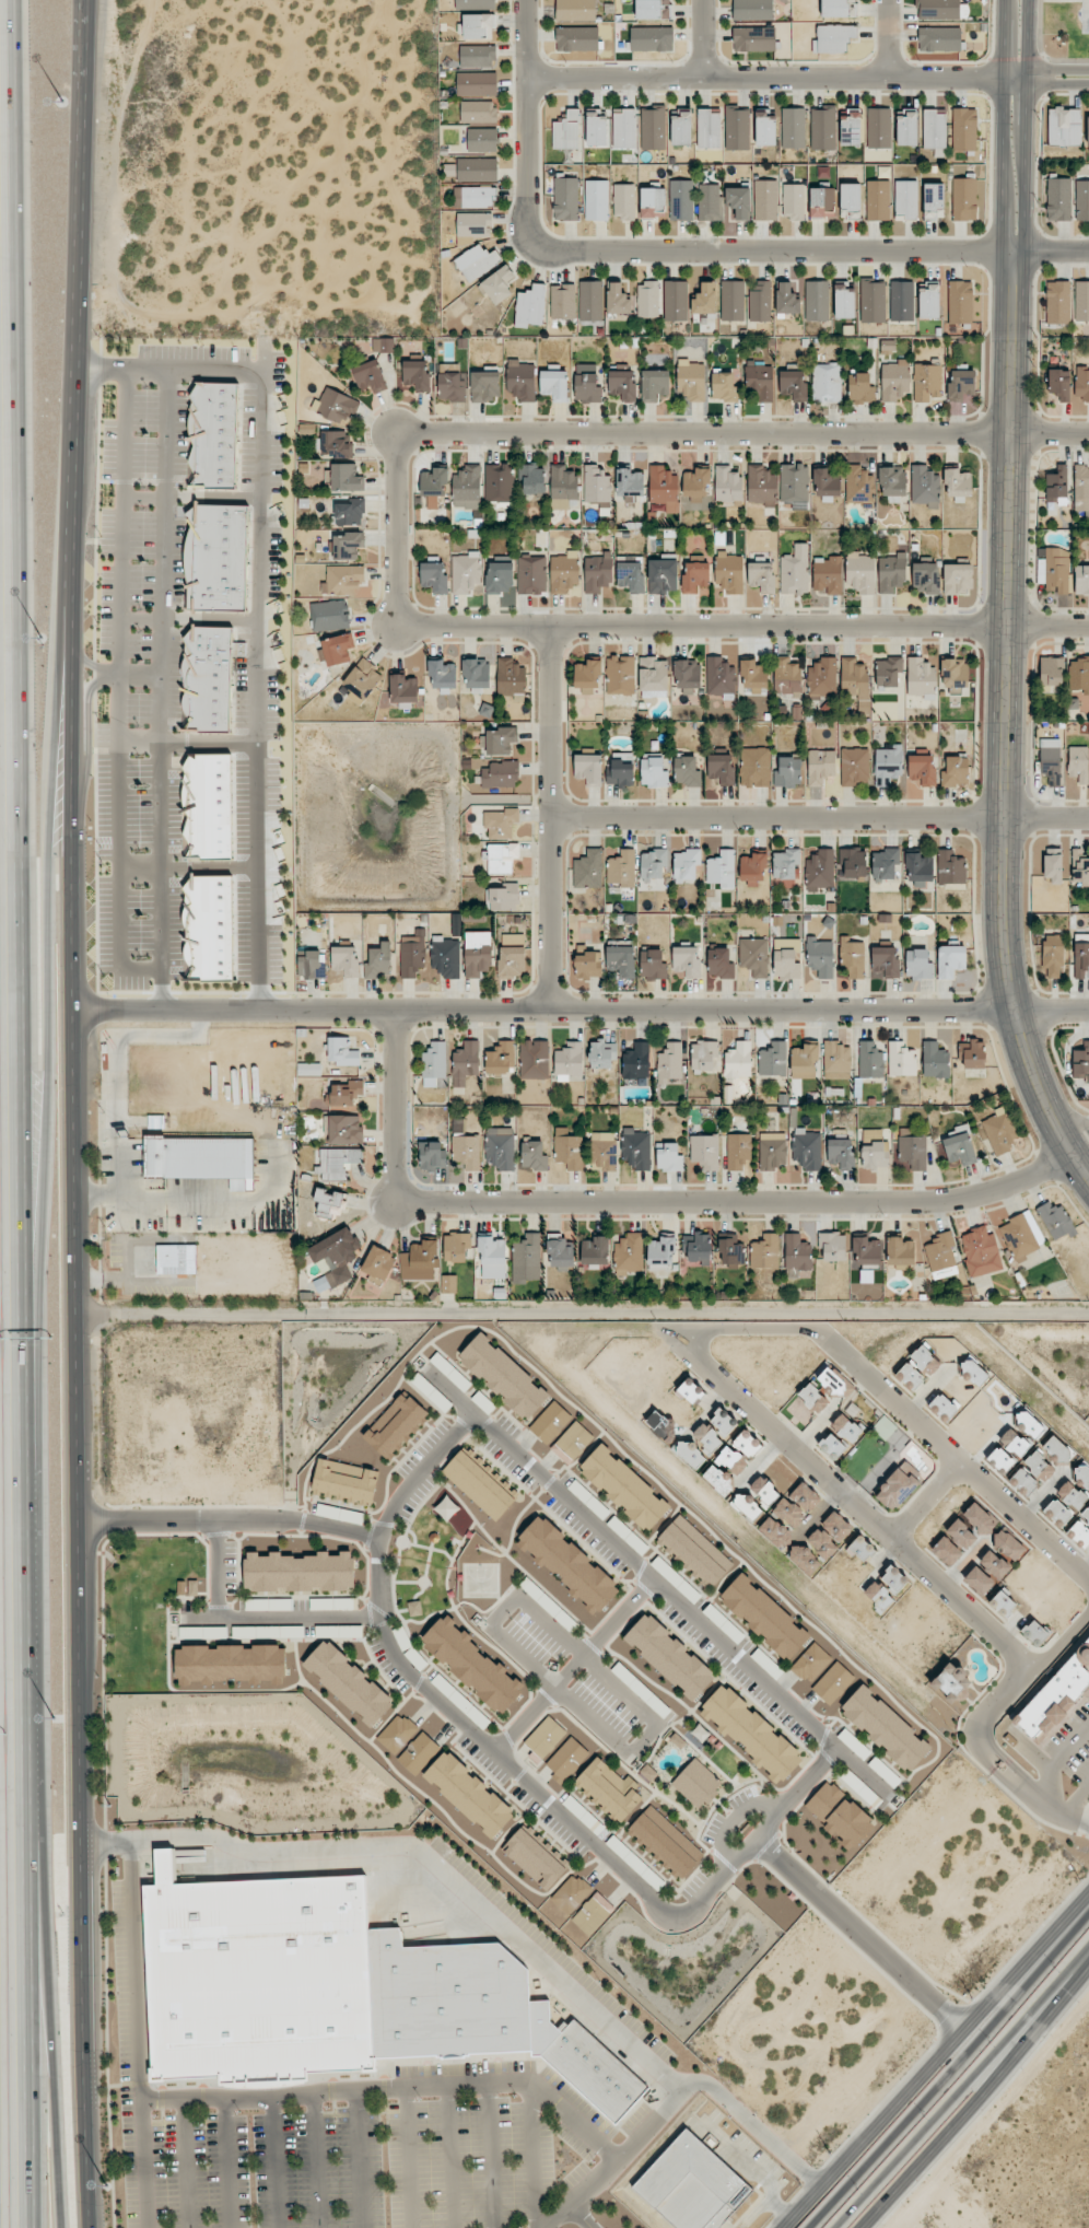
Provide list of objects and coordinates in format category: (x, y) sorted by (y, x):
road: (1062, 0)
building: (476, 3)
building: (653, 9)
building: (835, 9)
building: (938, 9)
building: (575, 10)
building: (752, 10)
park: (1086, 16)
building: (478, 26)
park: (1063, 31)
building: (576, 38)
building: (651, 38)
building: (833, 38)
building: (939, 38)
road: (703, 39)
building: (754, 39)
road: (890, 40)
road: (1039, 51)
building: (477, 56)
road: (1026, 58)
road: (1057, 71)
road: (775, 79)
road: (1057, 83)
building: (477, 84)
building: (478, 112)
road: (1005, 126)
building: (851, 127)
building: (906, 127)
road: (1027, 127)
building: (1064, 127)
building: (596, 128)
building: (681, 128)
building: (765, 128)
building: (793, 128)
building: (823, 128)
building: (879, 128)
building: (624, 129)
building: (653, 129)
building: (709, 129)
building: (737, 129)
building: (934, 129)
building: (964, 129)
building: (1088, 129)
building: (567, 131)
building: (482, 140)
building: (477, 170)
building: (475, 197)
building: (565, 198)
building: (964, 199)
building: (1058, 199)
building: (596, 200)
building: (681, 200)
building: (765, 200)
building: (850, 200)
building: (878, 200)
building: (906, 200)
building: (934, 200)
building: (1082, 200)
building: (624, 201)
building: (739, 201)
building: (793, 201)
building: (653, 202)
building: (710, 202)
building: (822, 202)
building: (473, 225)
road: (687, 252)
road: (79, 261)
building: (476, 261)
building: (499, 284)
building: (619, 299)
building: (647, 299)
building: (705, 299)
building: (786, 299)
building: (844, 300)
building: (563, 301)
building: (590, 301)
building: (676, 301)
building: (733, 301)
building: (760, 301)
building: (817, 301)
building: (873, 301)
building: (902, 301)
building: (928, 301)
building: (1081, 301)
building: (960, 302)
building: (1058, 302)
building: (530, 306)
building: (383, 345)
building: (415, 374)
building: (370, 376)
building: (522, 380)
building: (691, 380)
building: (895, 381)
building: (761, 383)
building: (827, 383)
building: (450, 384)
building: (554, 384)
building: (623, 384)
building: (655, 384)
building: (794, 384)
building: (961, 384)
building: (1059, 384)
building: (1081, 384)
building: (724, 385)
building: (484, 386)
building: (860, 387)
building: (587, 388)
building: (337, 406)
road: (648, 433)
building: (214, 435)
building: (336, 444)
building: (346, 478)
building: (531, 478)
building: (434, 481)
building: (497, 482)
building: (630, 482)
building: (958, 482)
building: (696, 483)
building: (728, 483)
building: (827, 483)
building: (893, 483)
building: (596, 485)
building: (859, 485)
building: (1056, 485)
building: (795, 486)
building: (467, 487)
building: (563, 487)
building: (761, 487)
building: (925, 487)
building: (1081, 488)
building: (351, 513)
building: (348, 545)
building: (218, 558)
building: (1054, 570)
building: (795, 571)
building: (564, 572)
building: (598, 572)
building: (729, 572)
building: (860, 572)
building: (891, 572)
building: (467, 573)
building: (531, 574)
building: (828, 574)
building: (663, 575)
building: (631, 576)
building: (761, 576)
building: (434, 578)
building: (499, 578)
building: (925, 578)
building: (958, 579)
building: (342, 580)
building: (1081, 580)
building: (329, 615)
road: (742, 625)
building: (337, 649)
road: (165, 650)
building: (1052, 670)
building: (888, 672)
building: (476, 673)
building: (754, 674)
building: (443, 675)
building: (620, 675)
building: (687, 675)
building: (1079, 675)
building: (587, 676)
building: (653, 676)
building: (721, 676)
building: (787, 676)
building: (955, 676)
building: (511, 677)
building: (822, 678)
building: (921, 678)
building: (208, 679)
building: (855, 679)
building: (362, 680)
building: (403, 689)
road: (1006, 724)
road: (89, 731)
building: (1051, 760)
building: (888, 763)
building: (1079, 763)
building: (588, 767)
building: (754, 767)
building: (820, 767)
building: (855, 767)
building: (722, 769)
building: (922, 769)
building: (621, 770)
building: (653, 771)
building: (687, 771)
building: (956, 771)
building: (788, 772)
building: (500, 774)
building: (208, 806)
road: (552, 818)
road: (820, 818)
building: (501, 823)
building: (501, 856)
building: (853, 862)
building: (785, 863)
building: (885, 863)
building: (654, 864)
building: (686, 865)
building: (1053, 865)
building: (752, 867)
building: (950, 867)
building: (622, 868)
building: (722, 868)
building: (1080, 868)
building: (588, 870)
building: (821, 870)
building: (920, 870)
building: (504, 897)
building: (209, 928)
road: (51, 948)
building: (478, 953)
building: (412, 954)
building: (512, 955)
building: (1053, 955)
building: (446, 956)
building: (754, 956)
building: (820, 957)
building: (786, 958)
building: (852, 958)
building: (346, 960)
building: (379, 960)
building: (621, 960)
building: (885, 960)
building: (950, 960)
building: (1081, 960)
building: (686, 961)
building: (719, 963)
building: (918, 964)
building: (312, 965)
building: (588, 965)
building: (653, 965)
road: (582, 1011)
building: (341, 1051)
building: (601, 1054)
building: (704, 1054)
building: (973, 1054)
building: (501, 1058)
building: (534, 1059)
building: (773, 1059)
building: (901, 1059)
building: (738, 1060)
building: (836, 1060)
building: (870, 1060)
building: (935, 1060)
building: (434, 1061)
building: (636, 1061)
building: (804, 1061)
building: (1080, 1061)
building: (465, 1062)
building: (570, 1062)
building: (670, 1063)
building: (309, 1069)
road: (115, 1085)
building: (346, 1094)
road: (28, 1113)
road: (395, 1115)
building: (343, 1129)
building: (1000, 1131)
building: (959, 1146)
building: (500, 1147)
building: (636, 1148)
building: (807, 1148)
building: (738, 1150)
building: (874, 1150)
building: (569, 1151)
building: (602, 1151)
building: (772, 1151)
building: (468, 1152)
building: (705, 1152)
building: (913, 1152)
building: (841, 1153)
building: (432, 1155)
building: (534, 1156)
building: (668, 1157)
building: (198, 1158)
building: (337, 1162)
building: (330, 1203)
road: (746, 1203)
road: (185, 1206)
building: (1056, 1220)
building: (1021, 1234)
building: (456, 1247)
building: (832, 1247)
building: (698, 1248)
building: (730, 1249)
building: (595, 1251)
building: (765, 1251)
building: (866, 1251)
building: (981, 1251)
building: (559, 1252)
building: (797, 1252)
building: (900, 1252)
building: (629, 1255)
building: (661, 1255)
building: (941, 1257)
building: (335, 1258)
building: (493, 1258)
building: (177, 1259)
building: (526, 1259)
building: (420, 1260)
building: (378, 1263)
road: (583, 1315)
road: (973, 1344)
building: (917, 1368)
building: (973, 1372)
road: (78, 1376)
building: (504, 1377)
building: (832, 1380)
building: (691, 1390)
building: (812, 1399)
building: (944, 1407)
road: (900, 1408)
building: (724, 1422)
building: (551, 1423)
building: (1029, 1424)
building: (396, 1425)
building: (847, 1427)
building: (885, 1427)
building: (707, 1437)
building: (574, 1443)
building: (747, 1444)
building: (832, 1446)
building: (1008, 1450)
building: (689, 1453)
building: (731, 1461)
building: (1039, 1468)
building: (1082, 1474)
building: (717, 1480)
building: (1023, 1481)
road: (407, 1482)
building: (346, 1483)
building: (480, 1483)
building: (899, 1486)
building: (624, 1488)
building: (1072, 1495)
road: (850, 1502)
road: (926, 1502)
building: (797, 1505)
building: (447, 1508)
building: (1057, 1513)
building: (340, 1514)
building: (980, 1519)
road: (229, 1526)
building: (836, 1526)
building: (1080, 1529)
building: (775, 1532)
building: (960, 1533)
building: (822, 1543)
building: (1008, 1545)
building: (862, 1548)
building: (947, 1551)
building: (694, 1552)
building: (804, 1560)
building: (994, 1564)
building: (569, 1565)
building: (300, 1572)
building: (894, 1579)
building: (979, 1580)
building: (879, 1595)
building: (331, 1603)
building: (1003, 1603)
building: (269, 1605)
building: (414, 1608)
road: (255, 1615)
building: (765, 1618)
building: (203, 1632)
building: (268, 1632)
building: (1034, 1633)
road: (1059, 1637)
building: (670, 1657)
building: (472, 1664)
building: (811, 1664)
building: (231, 1665)
road: (572, 1668)
building: (951, 1682)
building: (349, 1683)
building: (834, 1683)
building: (1057, 1696)
road: (998, 1702)
building: (886, 1729)
building: (398, 1734)
building: (751, 1734)
building: (546, 1738)
building: (419, 1753)
building: (566, 1760)
building: (885, 1772)
building: (698, 1784)
road: (1029, 1788)
building: (609, 1792)
building: (470, 1795)
building: (839, 1816)
building: (666, 1844)
building: (536, 1857)
power tower: (1079, 1880)
building: (572, 1893)
building: (593, 1914)
road: (489, 1916)
road: (860, 1935)
road: (49, 1962)
building: (253, 1981)
power tower: (972, 1998)
road: (137, 2034)
road: (934, 2063)
building: (595, 2072)
road: (955, 2073)
road: (391, 2088)
road: (962, 2089)
road: (980, 2099)
power tower: (828, 2154)
road: (490, 2156)
road: (448, 2157)
road: (530, 2157)
road: (408, 2158)
road: (618, 2158)
road: (359, 2159)
road: (313, 2161)
road: (185, 2163)
road: (227, 2163)
road: (273, 2163)
road: (753, 2168)
building: (693, 2185)

